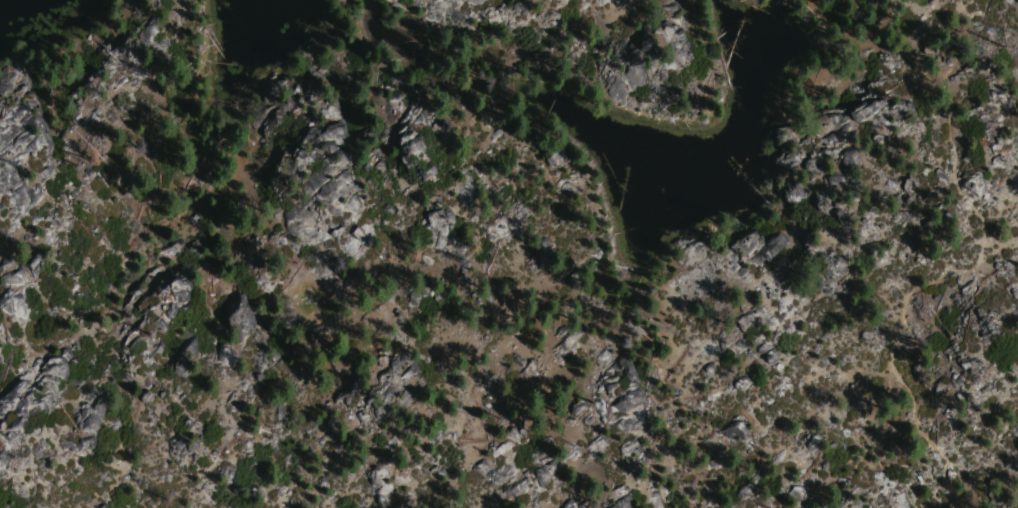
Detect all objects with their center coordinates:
road: (970, 270)

